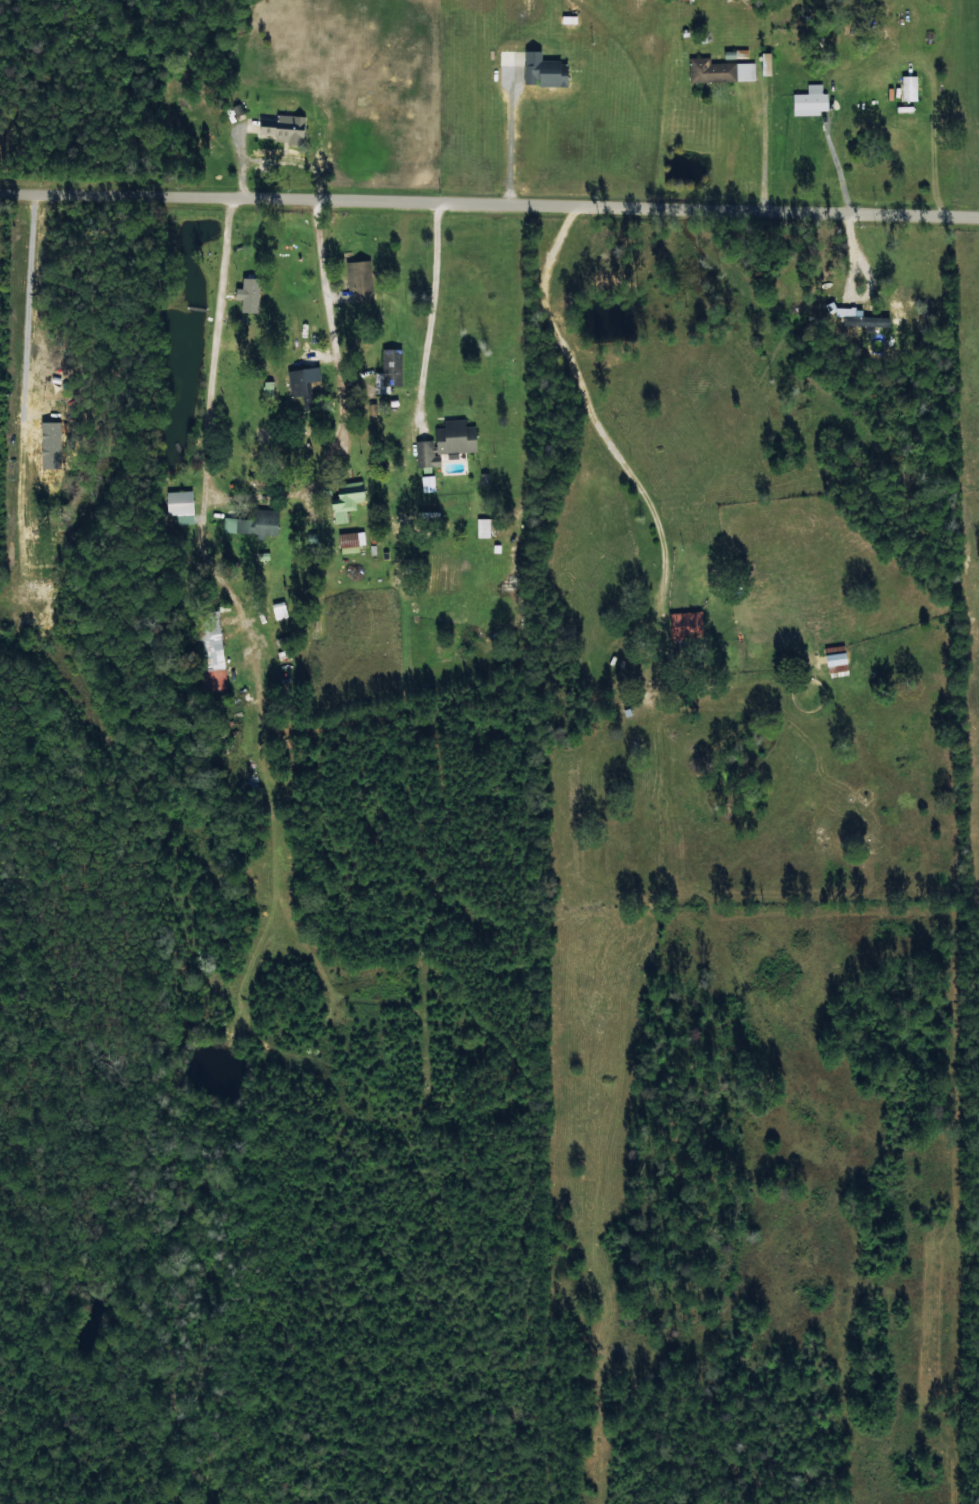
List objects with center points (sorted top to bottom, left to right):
building: (766, 63)
building: (544, 69)
building: (720, 70)
building: (909, 87)
building: (810, 100)
building: (284, 128)
road: (489, 200)
building: (359, 279)
building: (250, 294)
building: (861, 318)
building: (391, 366)
road: (564, 420)
building: (446, 442)
building: (428, 483)
building: (346, 500)
building: (179, 502)
building: (253, 523)
building: (482, 527)
building: (352, 539)
building: (279, 610)
building: (686, 624)
building: (836, 661)

